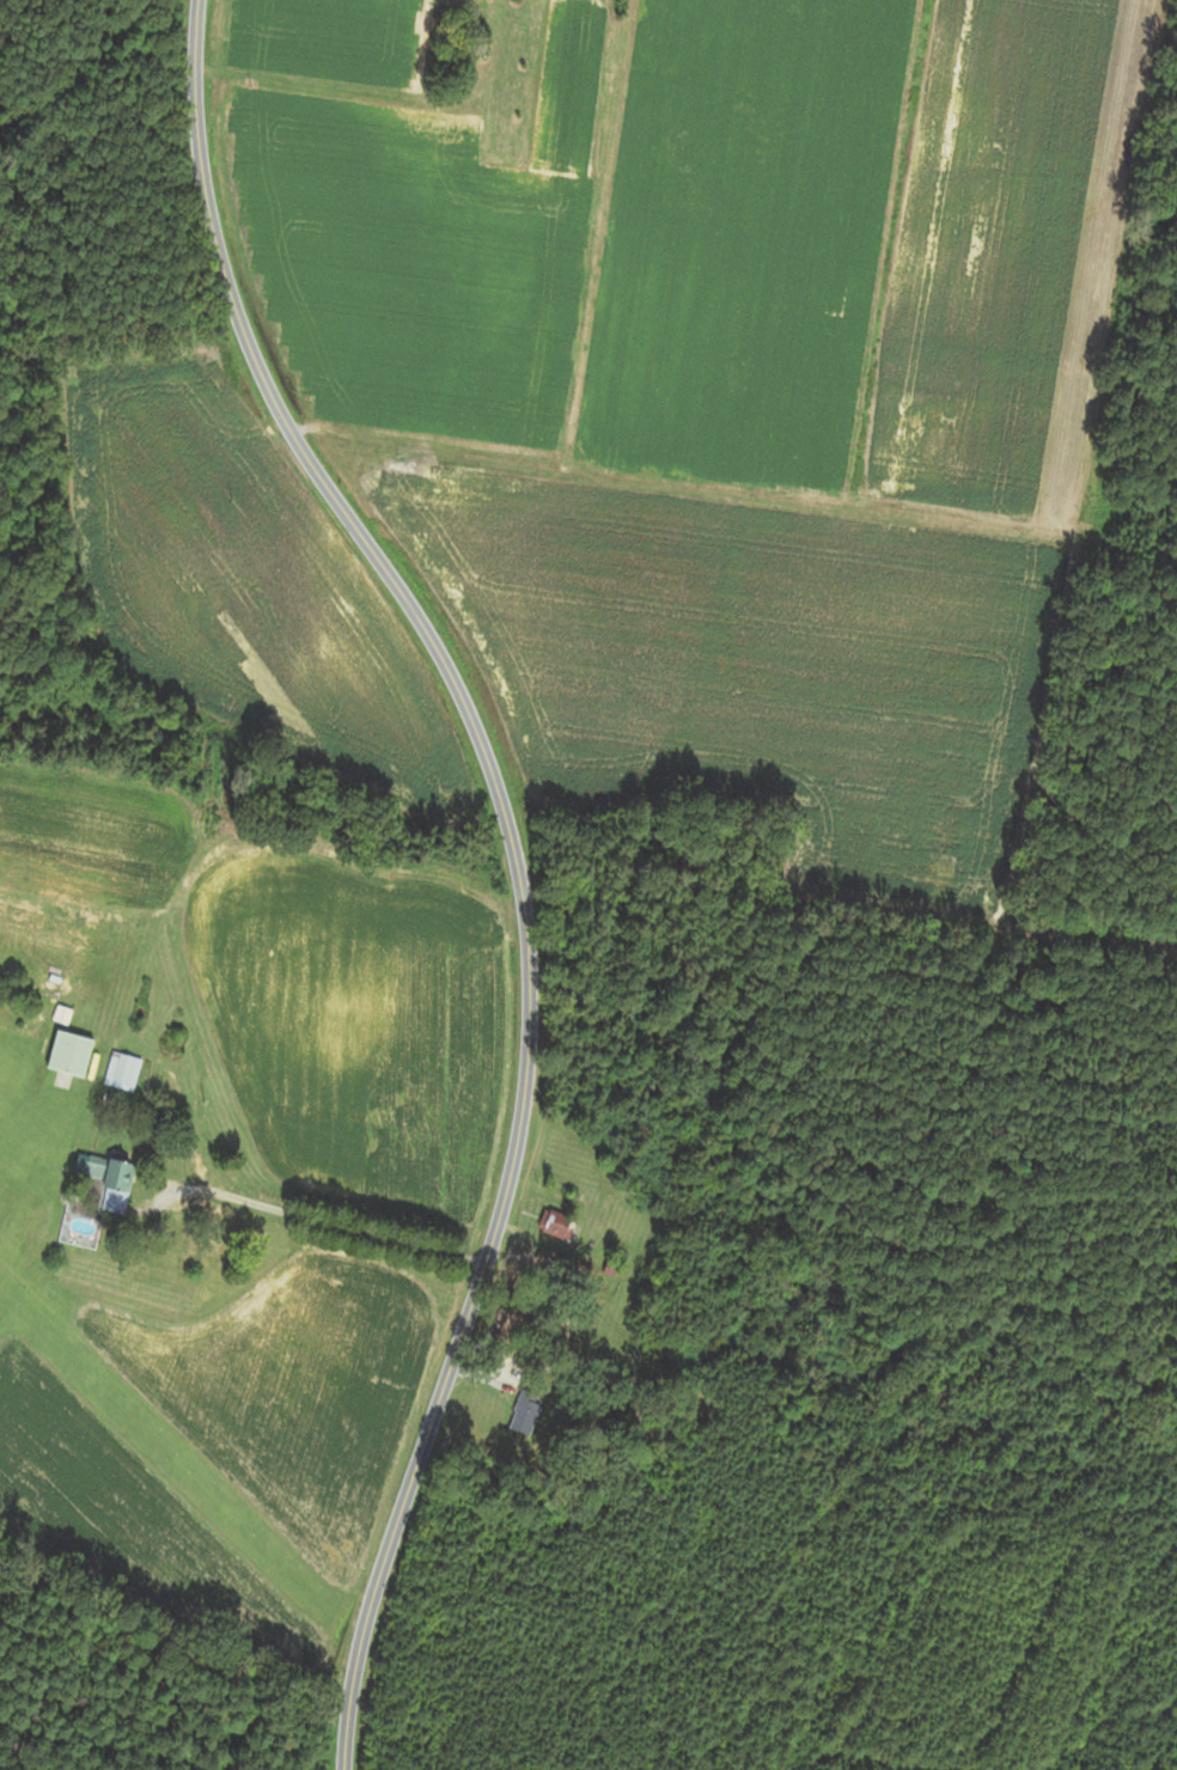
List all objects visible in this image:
road: (496, 791)
building: (72, 1054)
building: (122, 1072)
building: (91, 1198)
road: (317, 1219)
building: (554, 1223)
building: (525, 1412)
airport runway: (157, 1460)
road: (349, 1699)

